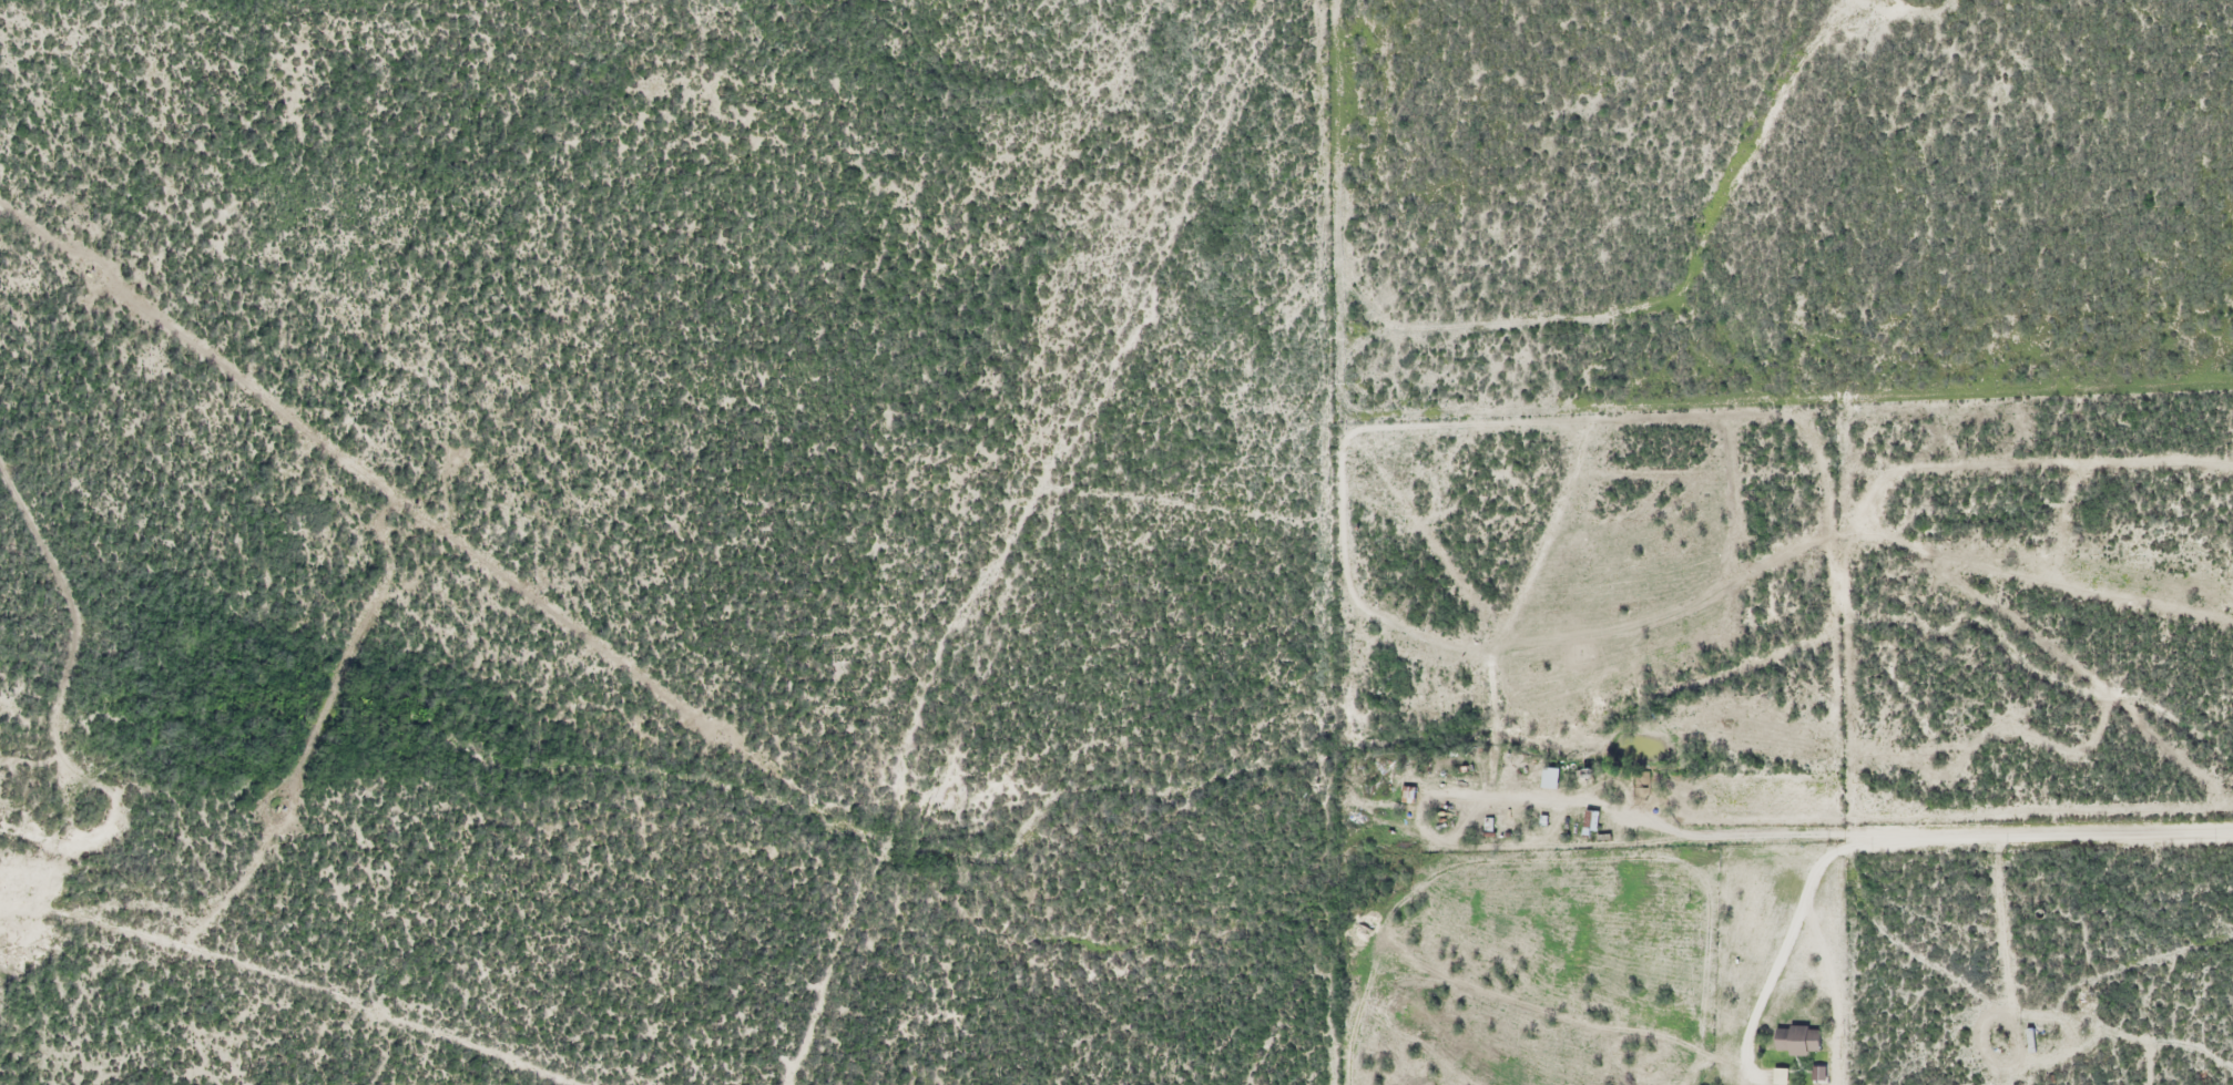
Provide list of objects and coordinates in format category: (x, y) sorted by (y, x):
road: (2042, 830)
building: (1799, 1041)

